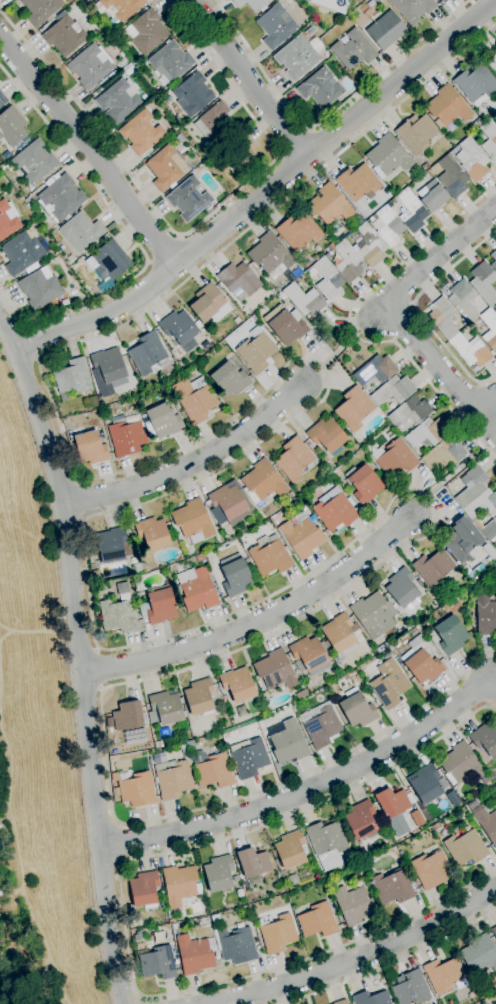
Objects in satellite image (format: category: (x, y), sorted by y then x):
building: (442, 0)
building: (69, 1)
building: (359, 1)
building: (251, 4)
building: (333, 5)
building: (120, 8)
building: (413, 9)
building: (41, 10)
building: (275, 27)
building: (386, 30)
building: (146, 32)
building: (64, 36)
building: (495, 46)
building: (353, 50)
building: (296, 58)
building: (123, 62)
building: (170, 62)
building: (492, 63)
building: (91, 66)
building: (128, 69)
road: (255, 79)
building: (475, 85)
building: (321, 89)
building: (192, 95)
building: (2, 100)
building: (118, 101)
building: (448, 106)
road: (327, 118)
building: (213, 121)
building: (11, 127)
building: (141, 132)
building: (416, 134)
building: (179, 138)
building: (489, 139)
road: (90, 149)
building: (240, 152)
building: (388, 156)
building: (472, 159)
building: (34, 161)
building: (165, 168)
building: (452, 177)
building: (358, 183)
road: (270, 196)
building: (432, 196)
building: (60, 197)
building: (189, 197)
building: (329, 205)
building: (411, 211)
building: (7, 220)
road: (192, 226)
building: (389, 227)
building: (298, 231)
building: (80, 232)
road: (131, 235)
building: (367, 246)
building: (22, 252)
building: (271, 256)
road: (432, 260)
building: (108, 261)
building: (347, 262)
building: (493, 264)
building: (328, 279)
building: (239, 281)
building: (484, 283)
building: (40, 288)
building: (72, 300)
building: (304, 300)
building: (463, 300)
building: (209, 304)
road: (416, 309)
building: (442, 318)
building: (285, 325)
road: (351, 326)
building: (489, 330)
building: (179, 332)
road: (30, 341)
building: (256, 350)
road: (338, 350)
building: (470, 351)
building: (148, 354)
building: (109, 365)
building: (376, 370)
road: (441, 371)
building: (72, 377)
building: (230, 380)
building: (369, 385)
building: (393, 391)
road: (487, 393)
building: (65, 398)
building: (194, 399)
road: (486, 405)
building: (355, 409)
building: (409, 414)
building: (164, 421)
building: (427, 433)
building: (327, 436)
building: (126, 438)
building: (90, 448)
building: (443, 454)
building: (394, 458)
building: (293, 459)
road: (193, 465)
road: (455, 472)
building: (262, 482)
building: (363, 483)
building: (469, 486)
building: (227, 501)
building: (482, 505)
building: (336, 510)
building: (192, 520)
building: (489, 530)
building: (152, 534)
building: (300, 538)
building: (462, 540)
building: (113, 545)
building: (495, 551)
building: (270, 556)
building: (200, 558)
building: (137, 568)
building: (433, 568)
building: (95, 574)
building: (235, 575)
building: (402, 588)
building: (197, 589)
building: (158, 606)
road: (91, 614)
building: (119, 615)
building: (373, 615)
building: (485, 615)
building: (435, 616)
road: (265, 624)
building: (339, 633)
building: (449, 636)
building: (432, 638)
road: (96, 650)
building: (311, 654)
road: (82, 657)
building: (421, 661)
road: (96, 670)
building: (275, 670)
building: (389, 684)
building: (238, 685)
road: (100, 689)
building: (301, 694)
building: (199, 698)
building: (225, 699)
building: (165, 708)
building: (357, 709)
building: (128, 716)
building: (146, 718)
building: (109, 723)
building: (322, 728)
building: (134, 732)
building: (136, 736)
building: (485, 739)
building: (136, 741)
building: (287, 742)
building: (190, 744)
building: (158, 745)
building: (182, 746)
building: (249, 758)
building: (461, 764)
building: (211, 769)
building: (173, 779)
building: (486, 779)
building: (425, 784)
building: (138, 791)
road: (310, 791)
building: (473, 805)
building: (394, 809)
building: (361, 820)
building: (486, 823)
road: (116, 824)
building: (327, 841)
road: (118, 845)
building: (465, 848)
building: (291, 850)
building: (272, 861)
road: (121, 862)
building: (253, 863)
building: (431, 869)
building: (218, 874)
building: (180, 885)
building: (392, 887)
building: (144, 890)
building: (353, 905)
road: (122, 915)
building: (251, 920)
building: (171, 921)
building: (317, 921)
building: (204, 922)
building: (174, 926)
building: (494, 932)
building: (277, 933)
building: (238, 946)
building: (216, 954)
building: (194, 955)
building: (480, 955)
road: (354, 959)
building: (157, 963)
road: (390, 964)
building: (445, 975)
building: (410, 989)
road: (139, 997)
building: (371, 998)
road: (138, 1001)
building: (341, 1002)
building: (476, 1003)

